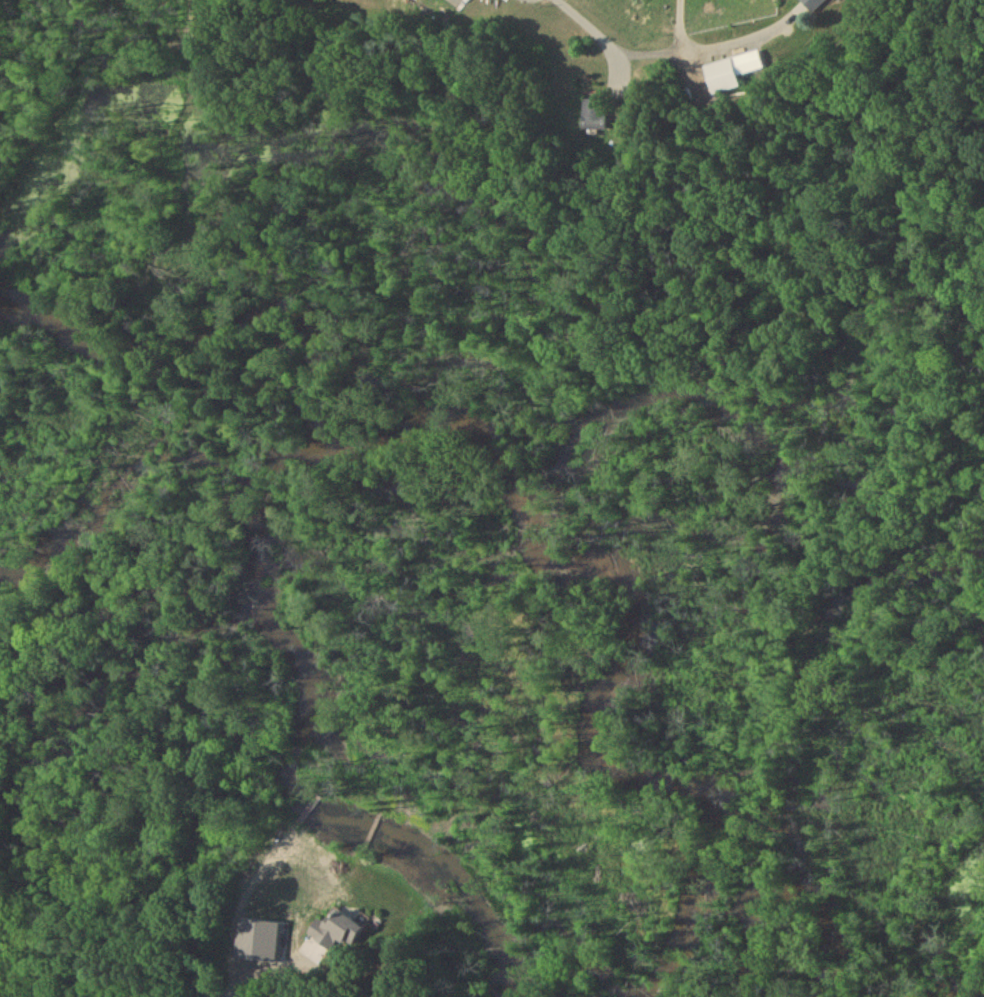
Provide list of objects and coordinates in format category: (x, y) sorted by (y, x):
building: (431, 0)
building: (814, 5)
road: (684, 41)
road: (618, 42)
building: (733, 73)
building: (596, 116)
building: (343, 933)
road: (110, 968)
road: (267, 972)
road: (220, 982)

